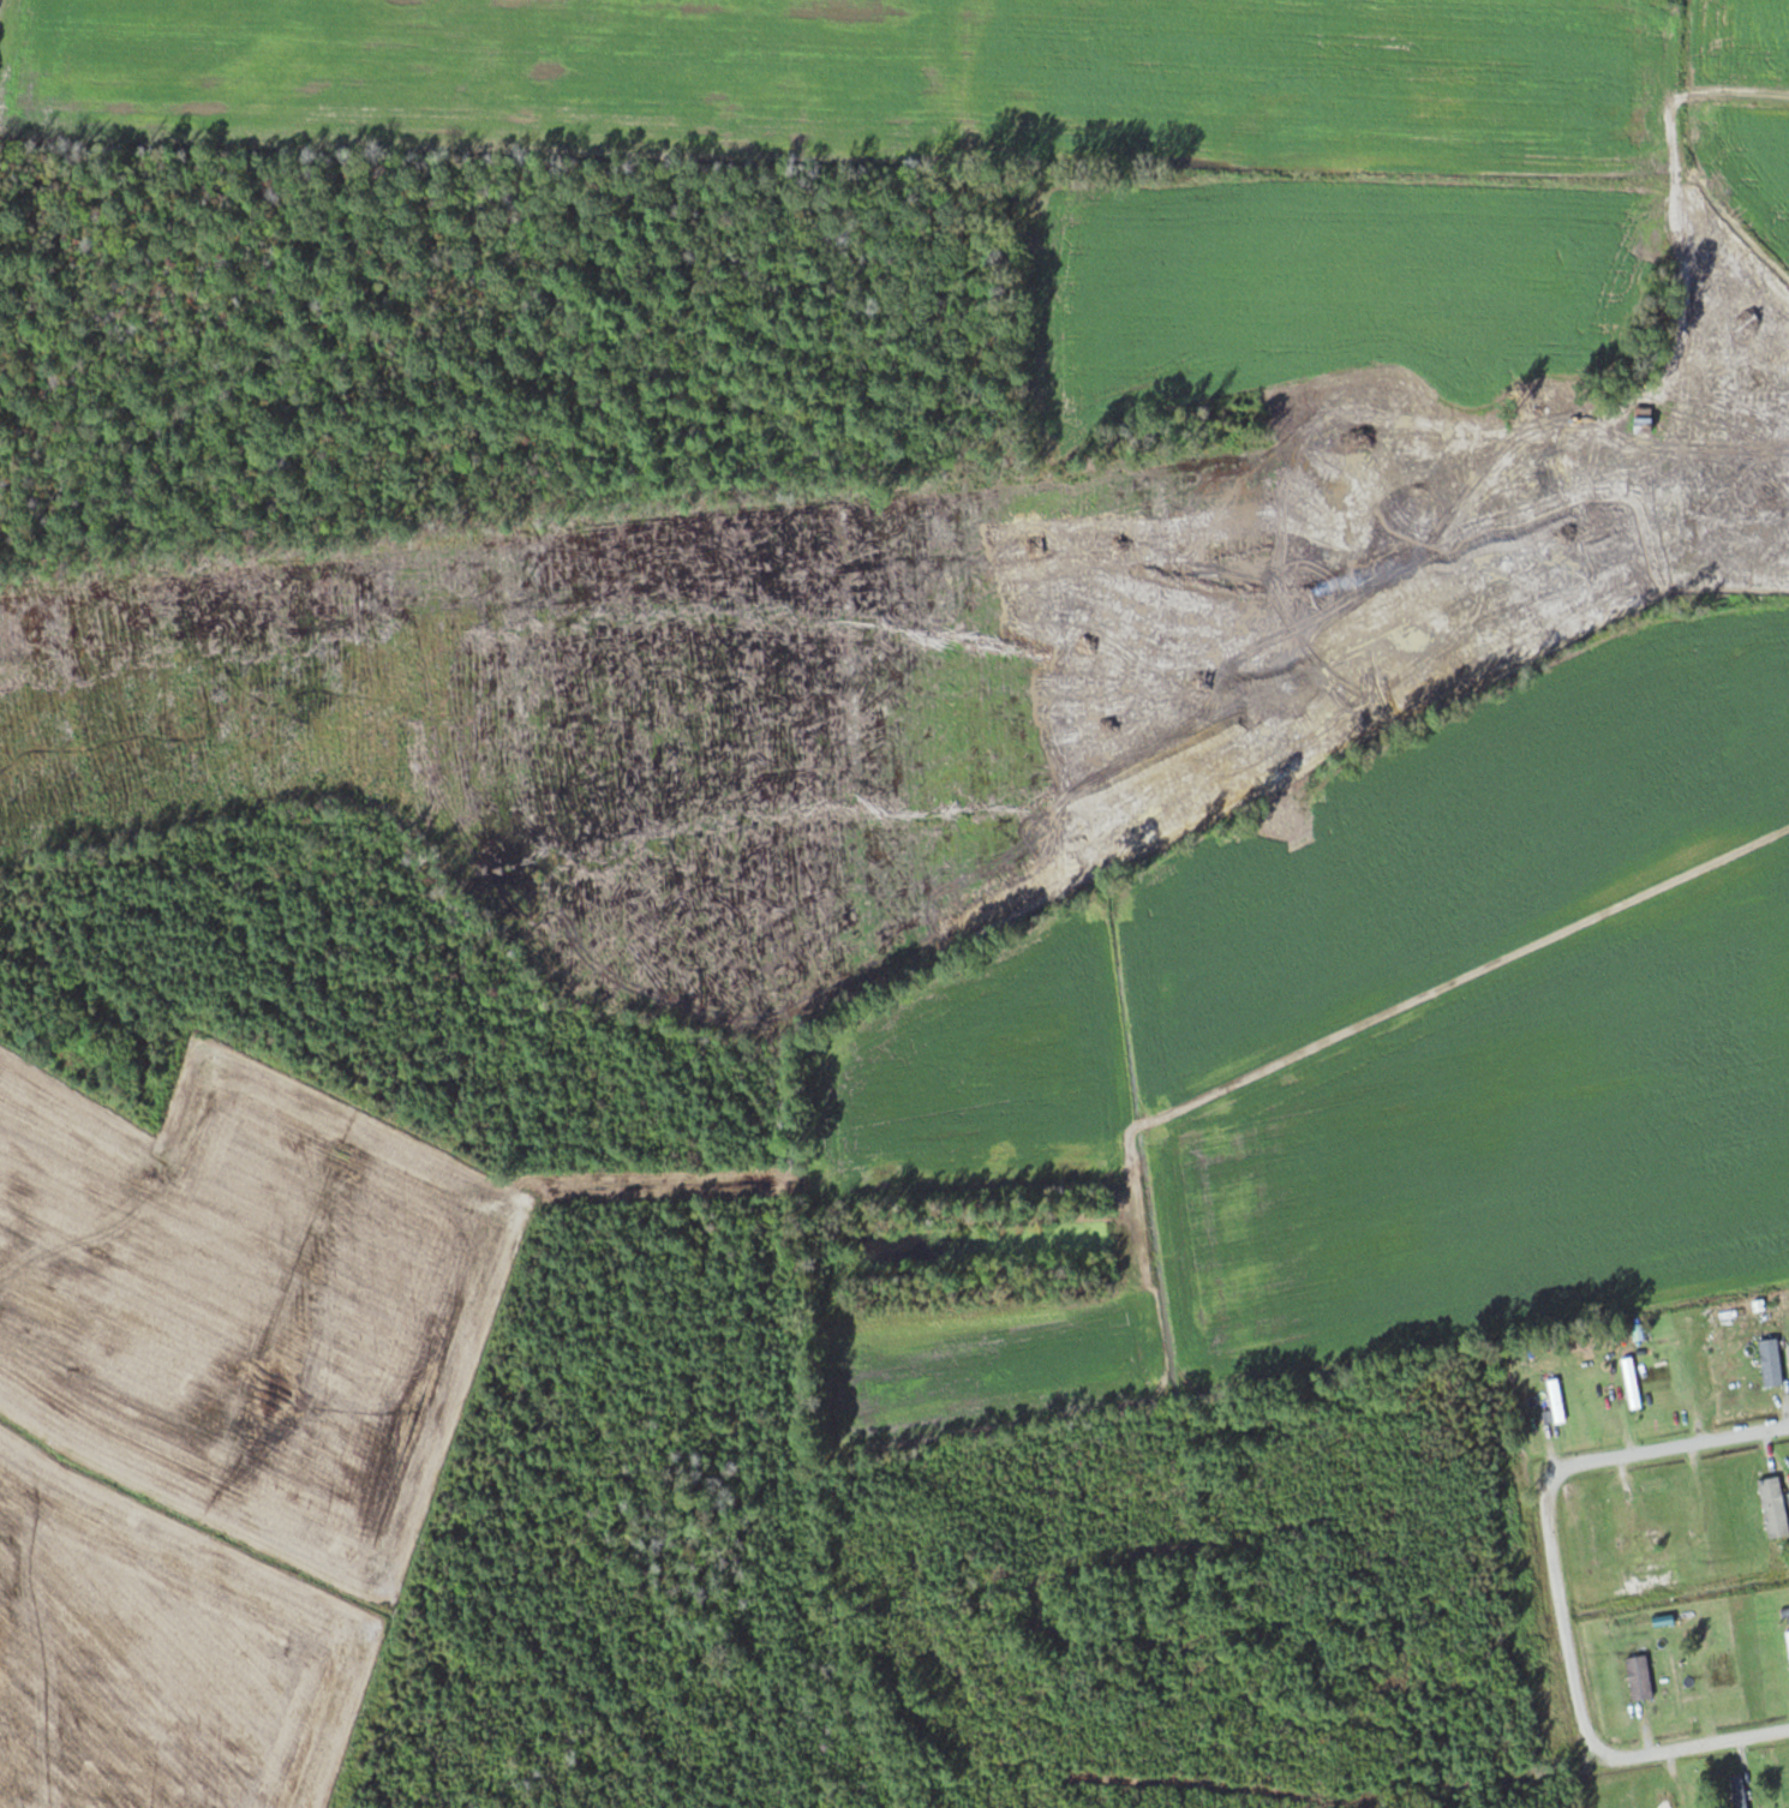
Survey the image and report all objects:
building: (1644, 424)
building: (1569, 442)
building: (1772, 1363)
building: (1701, 1366)
building: (1631, 1383)
building: (1776, 1507)
road: (1549, 1508)
building: (1623, 1525)
building: (1719, 1666)
road: (1707, 1741)
building: (1741, 1795)
building: (1665, 1800)

